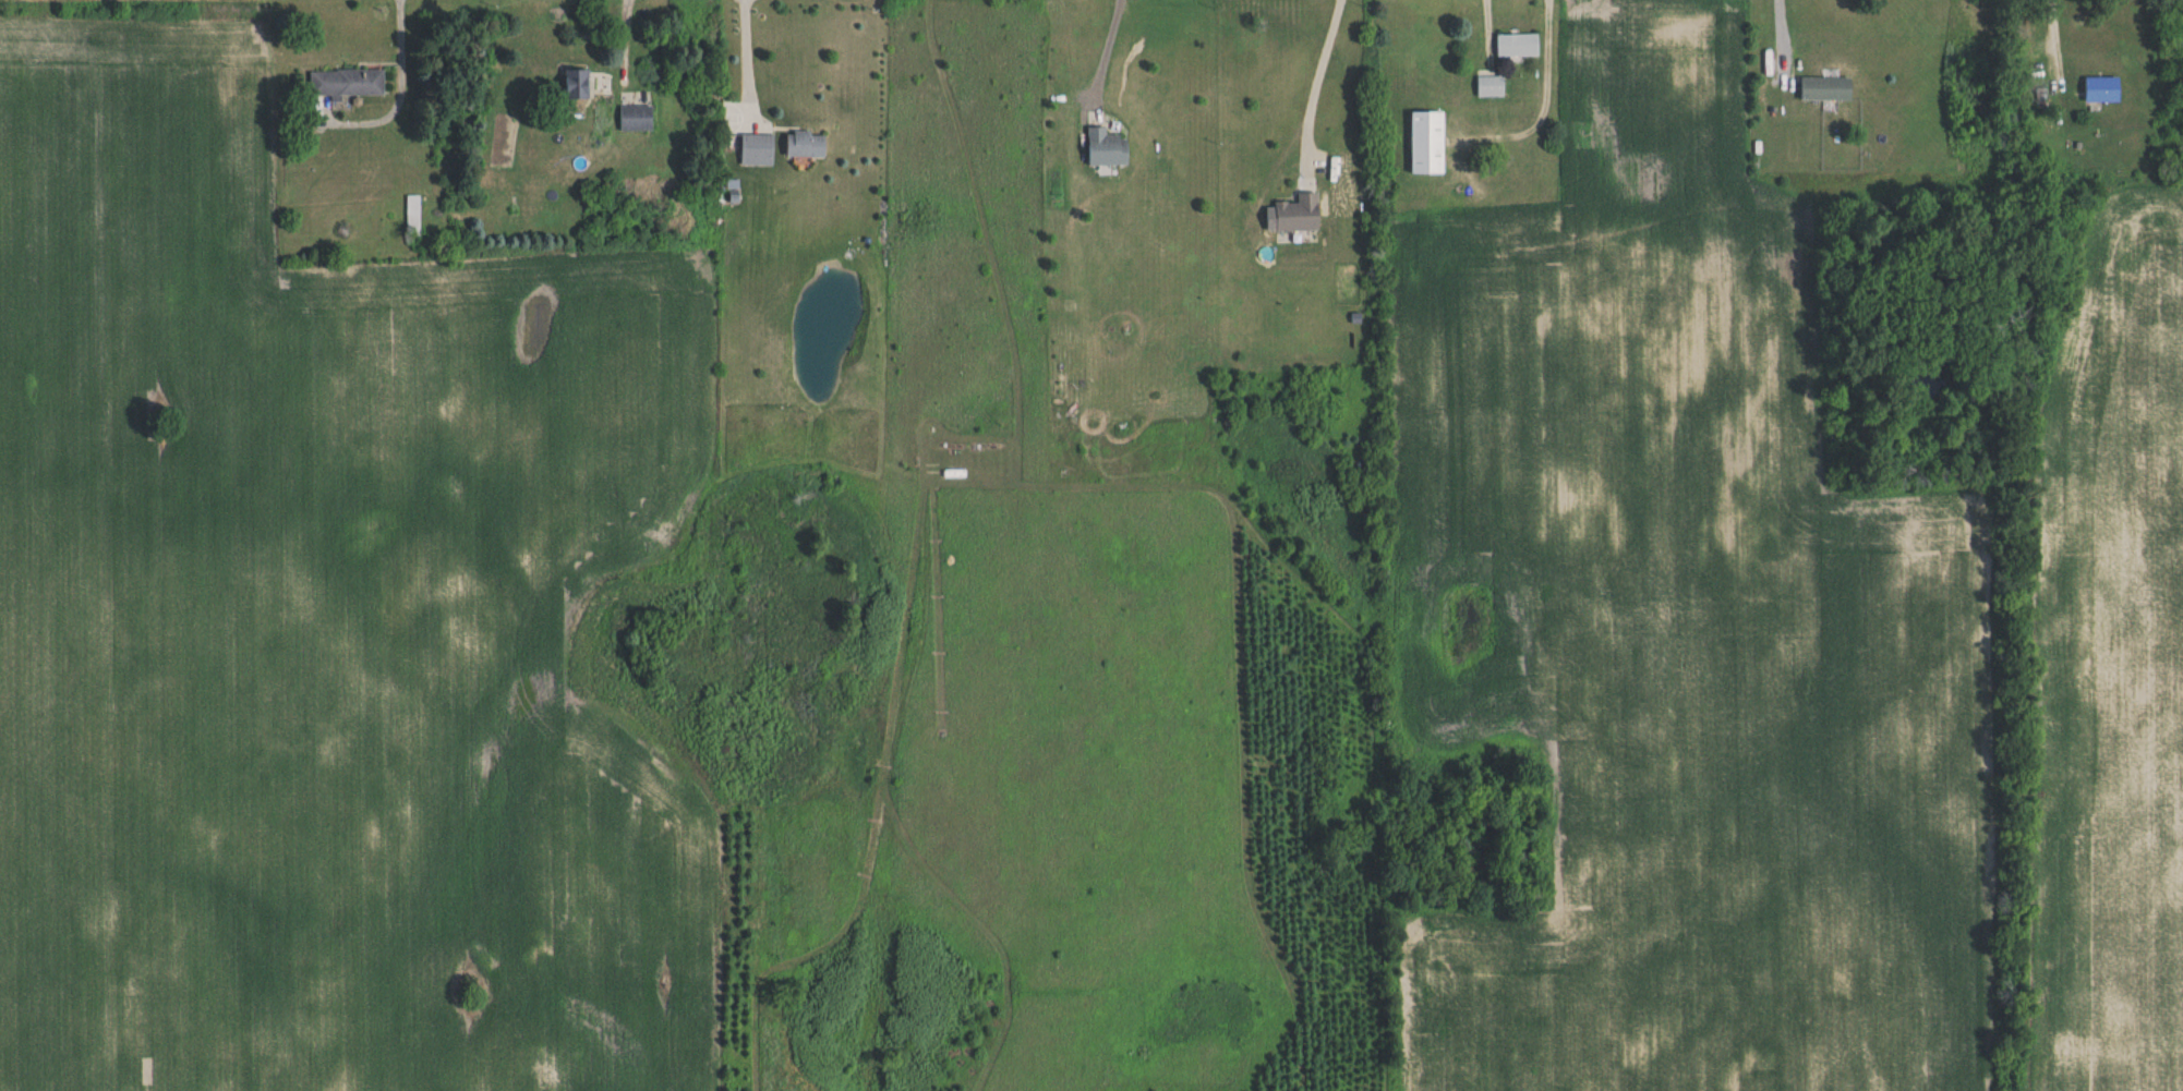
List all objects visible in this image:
building: (1517, 47)
road: (1102, 49)
road: (1315, 78)
building: (348, 84)
building: (578, 85)
building: (1489, 87)
building: (1825, 89)
building: (2102, 90)
building: (636, 119)
building: (1427, 143)
building: (805, 145)
building: (1107, 149)
building: (412, 215)
building: (1299, 215)
building: (764, 217)

